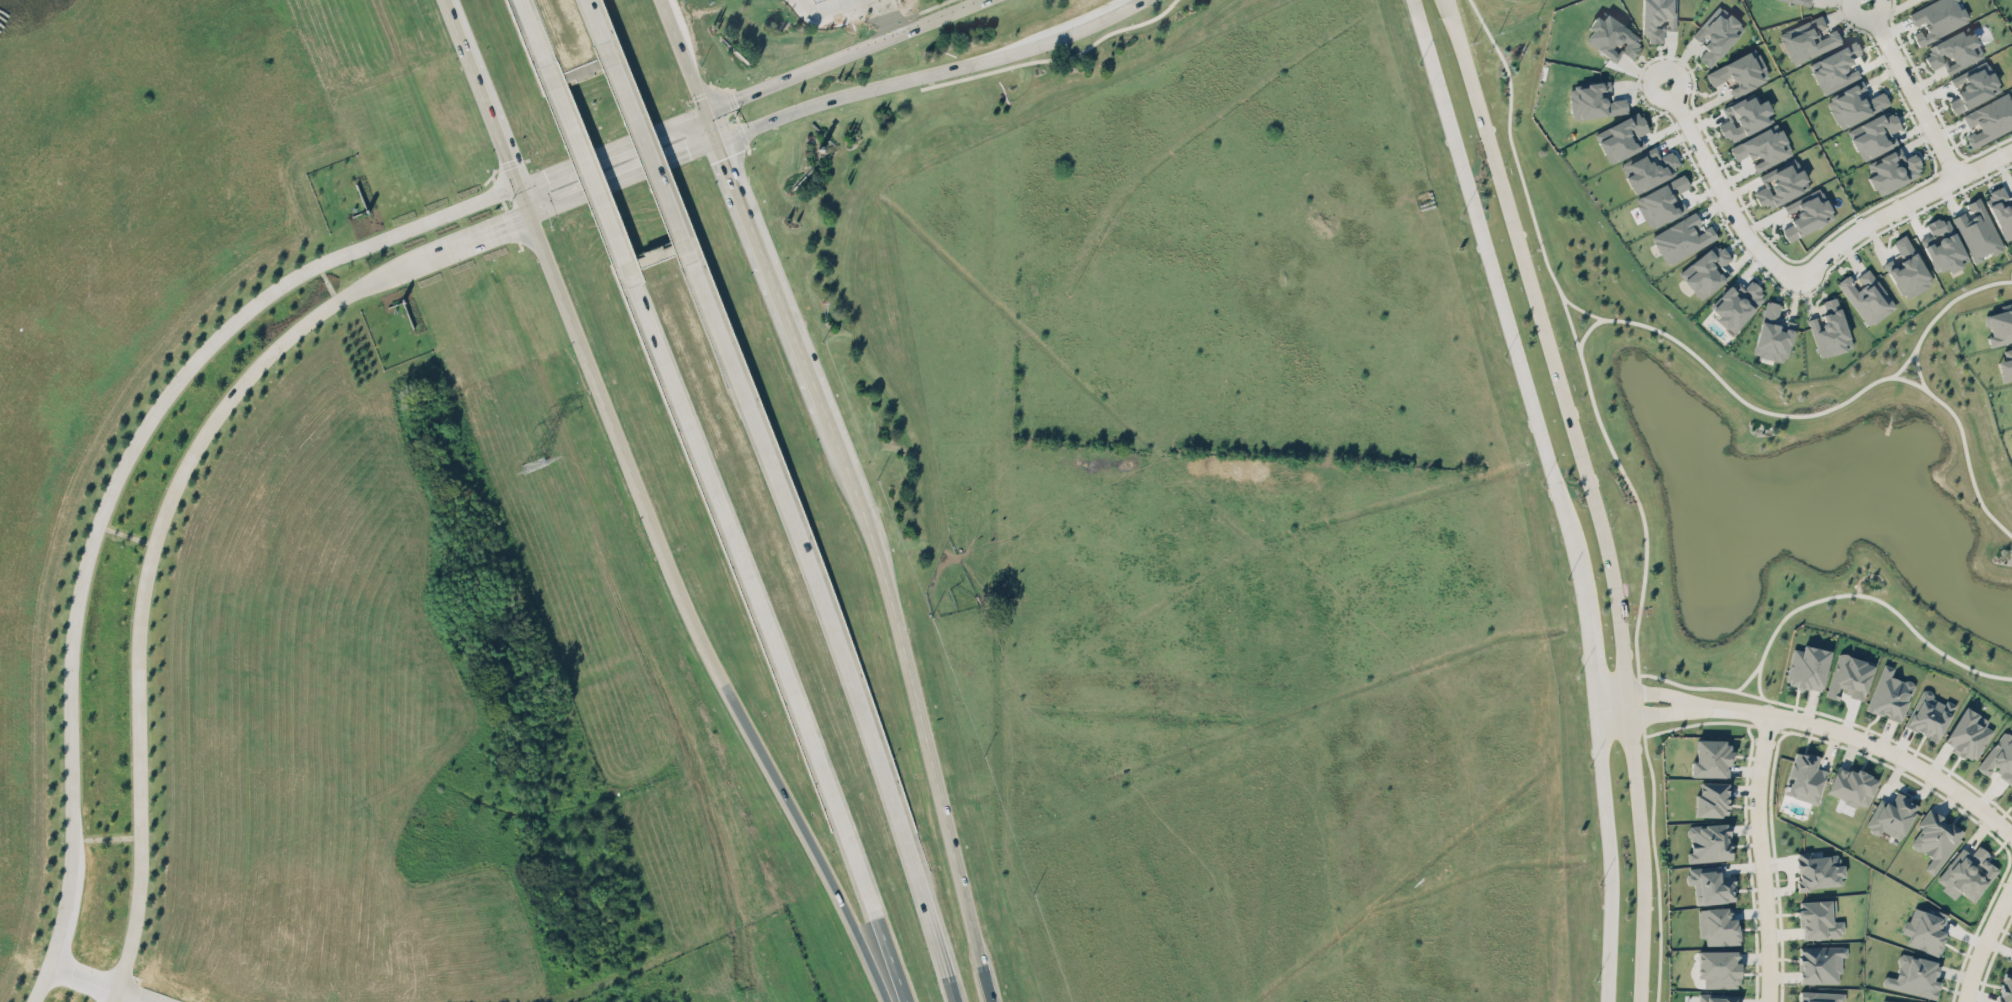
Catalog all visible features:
building: (818, 1)
road: (820, 1)
building: (1800, 1)
road: (822, 6)
road: (821, 10)
road: (887, 17)
building: (1657, 18)
building: (1937, 18)
road: (594, 20)
road: (535, 32)
building: (1716, 34)
building: (1612, 37)
building: (1807, 39)
road: (881, 40)
building: (1954, 51)
road: (682, 56)
building: (1834, 67)
road: (928, 71)
building: (1740, 72)
building: (1973, 86)
road: (1910, 88)
road: (479, 92)
road: (743, 96)
traffic signals: (736, 99)
building: (1595, 100)
building: (1854, 104)
building: (1745, 116)
building: (1989, 119)
road: (679, 122)
road: (710, 126)
building: (1873, 134)
building: (1621, 137)
building: (1762, 147)
road: (647, 151)
traffic signals: (689, 152)
traffic signals: (723, 158)
road: (584, 159)
traffic signals: (506, 160)
building: (1648, 168)
building: (1893, 170)
traffic signals: (547, 174)
road: (591, 174)
road: (622, 178)
building: (1781, 183)
road: (1721, 189)
road: (522, 201)
building: (1661, 202)
road: (1899, 206)
building: (2001, 209)
traffic signals: (505, 225)
building: (1977, 230)
road: (470, 238)
building: (1681, 238)
building: (1944, 246)
building: (1908, 268)
building: (1706, 271)
road: (769, 275)
building: (1866, 296)
road: (1952, 299)
building: (1736, 304)
road: (1502, 306)
road: (1581, 308)
building: (1999, 327)
building: (1829, 329)
building: (1773, 333)
road: (1577, 342)
road: (1903, 363)
building: (2006, 365)
road: (588, 368)
road: (1917, 369)
road: (1823, 408)
power tower: (533, 464)
road: (111, 489)
road: (1590, 493)
road: (145, 575)
road: (1814, 600)
road: (831, 629)
road: (773, 642)
road: (1588, 655)
road: (906, 664)
building: (1807, 667)
building: (1849, 676)
road: (1640, 691)
building: (1889, 694)
road: (1594, 707)
road: (1642, 713)
building: (1929, 715)
building: (1968, 733)
road: (1861, 737)
road: (756, 743)
building: (1711, 758)
building: (1999, 758)
building: (1804, 777)
building: (1851, 786)
building: (2011, 793)
building: (1711, 799)
building: (1893, 817)
building: (1935, 838)
building: (1709, 842)
road: (1760, 856)
road: (1609, 859)
building: (1818, 870)
building: (1966, 873)
building: (1710, 885)
building: (1819, 919)
building: (1717, 926)
building: (1925, 928)
road: (1984, 941)
building: (2011, 959)
road: (980, 963)
building: (1820, 963)
building: (1719, 968)
building: (1914, 976)
road: (98, 982)
road: (878, 983)
building: (2005, 989)
building: (1820, 996)
building: (1717, 998)
building: (1891, 1001)

